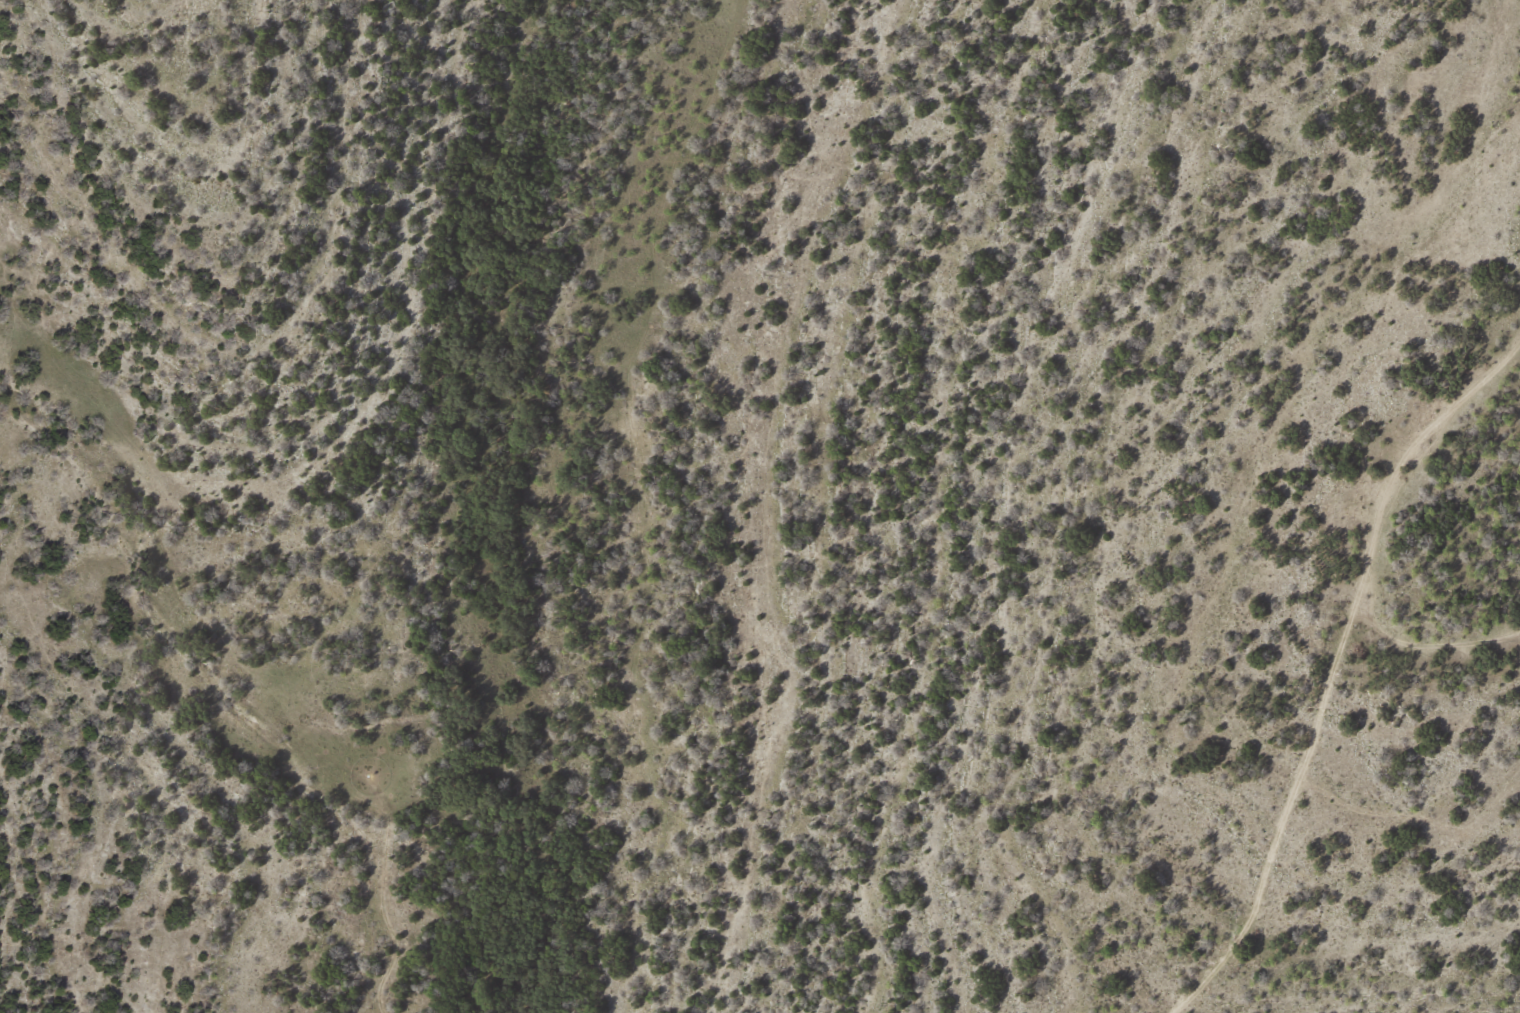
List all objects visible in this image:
road: (1313, 632)

